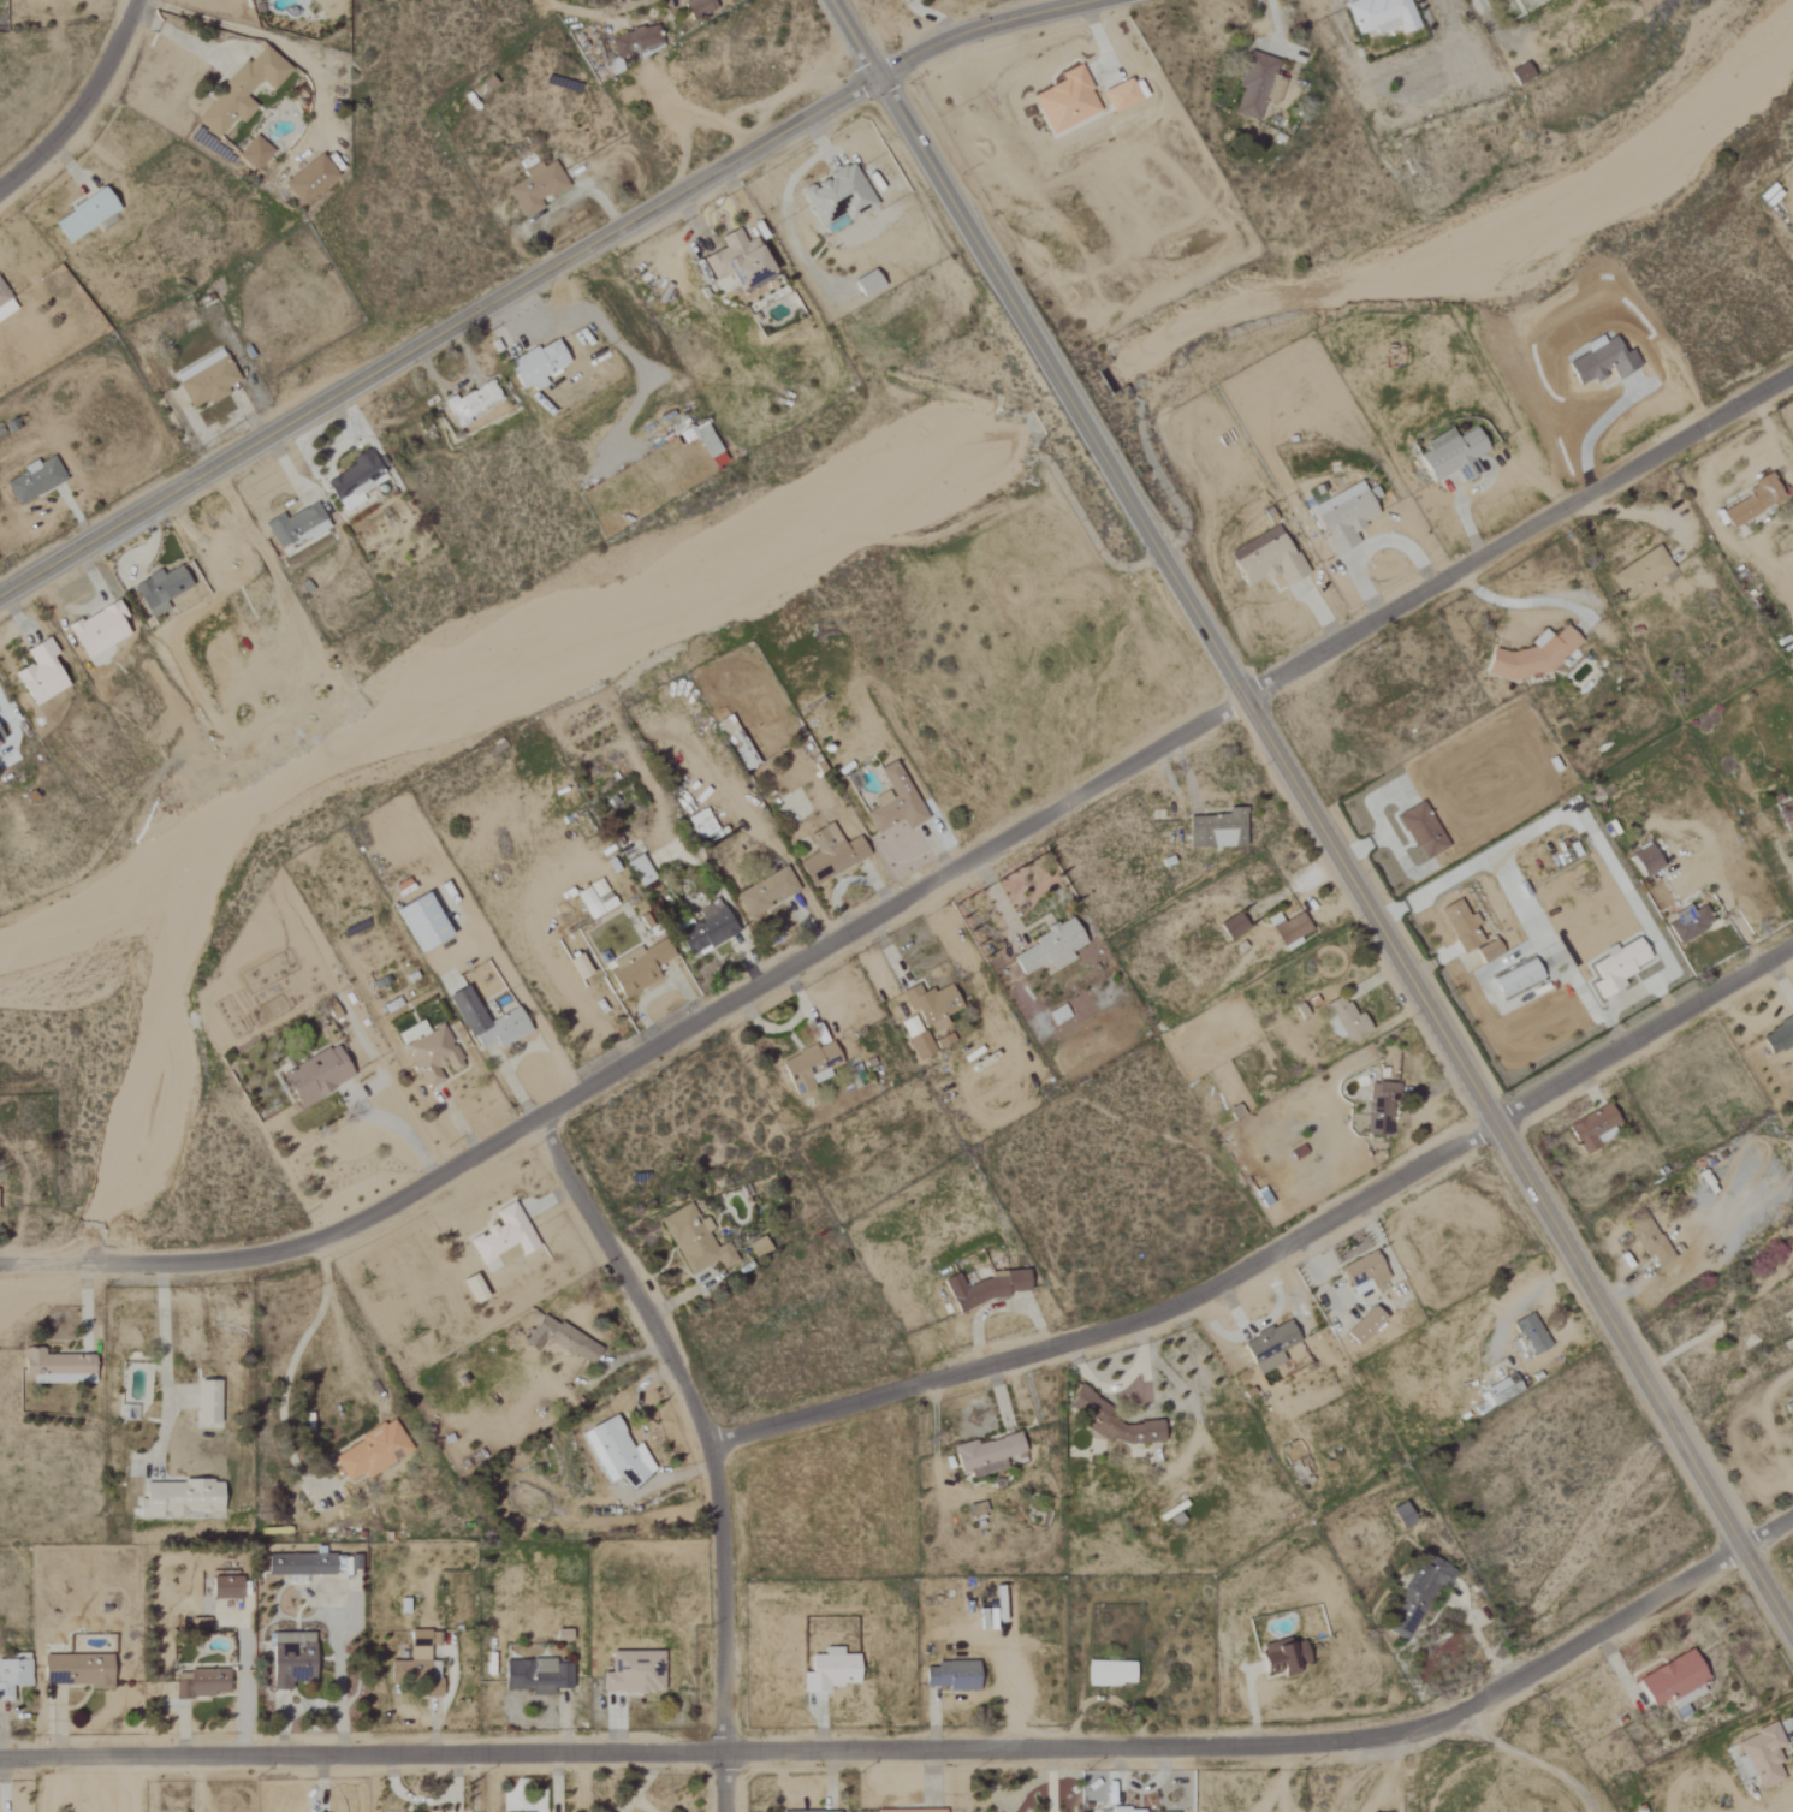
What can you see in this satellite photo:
building: (900, 0)
building: (697, 7)
road: (589, 8)
building: (1381, 16)
road: (985, 29)
road: (262, 36)
road: (855, 38)
building: (635, 41)
building: (1520, 73)
building: (1257, 85)
building: (241, 90)
building: (1121, 95)
building: (1065, 101)
road: (82, 107)
building: (254, 153)
building: (308, 180)
building: (535, 188)
building: (837, 196)
building: (83, 215)
building: (737, 262)
building: (867, 284)
building: (5, 305)
road: (439, 337)
building: (536, 366)
building: (204, 379)
building: (470, 403)
building: (706, 441)
building: (1451, 456)
building: (34, 481)
building: (354, 481)
building: (1753, 501)
building: (1343, 516)
building: (296, 527)
building: (1266, 560)
building: (1640, 572)
building: (159, 590)
road: (1519, 598)
building: (97, 630)
building: (1532, 657)
building: (38, 675)
road: (12, 729)
building: (0, 738)
building: (893, 801)
building: (1786, 816)
building: (701, 824)
building: (1217, 830)
building: (1421, 831)
building: (829, 854)
road: (1338, 856)
building: (1646, 860)
building: (639, 869)
building: (764, 892)
road: (919, 892)
road: (1513, 893)
building: (594, 898)
building: (421, 922)
building: (1690, 923)
building: (1460, 925)
building: (1231, 926)
building: (705, 929)
building: (1289, 931)
building: (1049, 946)
building: (1488, 951)
building: (578, 967)
building: (1616, 967)
building: (639, 968)
building: (1516, 978)
road: (1626, 997)
building: (931, 1004)
building: (1347, 1018)
building: (486, 1022)
building: (1779, 1035)
building: (915, 1038)
building: (943, 1041)
building: (432, 1056)
building: (315, 1076)
building: (1379, 1107)
road: (399, 1129)
building: (1592, 1129)
building: (501, 1240)
building: (694, 1241)
building: (1649, 1241)
building: (756, 1247)
road: (1280, 1250)
building: (1362, 1273)
building: (474, 1289)
building: (984, 1289)
building: (1362, 1326)
building: (1527, 1337)
building: (560, 1339)
building: (1269, 1347)
road: (289, 1365)
building: (55, 1367)
road: (166, 1368)
building: (1497, 1394)
building: (207, 1402)
building: (1111, 1421)
road: (711, 1444)
building: (615, 1450)
building: (370, 1452)
building: (984, 1455)
building: (179, 1499)
building: (1401, 1515)
building: (299, 1564)
building: (225, 1587)
building: (1282, 1656)
building: (290, 1664)
building: (77, 1671)
building: (829, 1671)
building: (633, 1673)
building: (12, 1674)
building: (1109, 1674)
building: (950, 1675)
building: (535, 1676)
building: (1674, 1681)
building: (200, 1683)
road: (926, 1745)
building: (1762, 1755)
road: (1527, 1757)
road: (1393, 1764)
road: (1053, 1775)
road: (49, 1784)
road: (131, 1786)
road: (1395, 1798)
road: (1383, 1799)
road: (1051, 1810)
road: (1053, 1810)
building: (1124, 1810)
building: (784, 1811)
building: (910, 1811)

